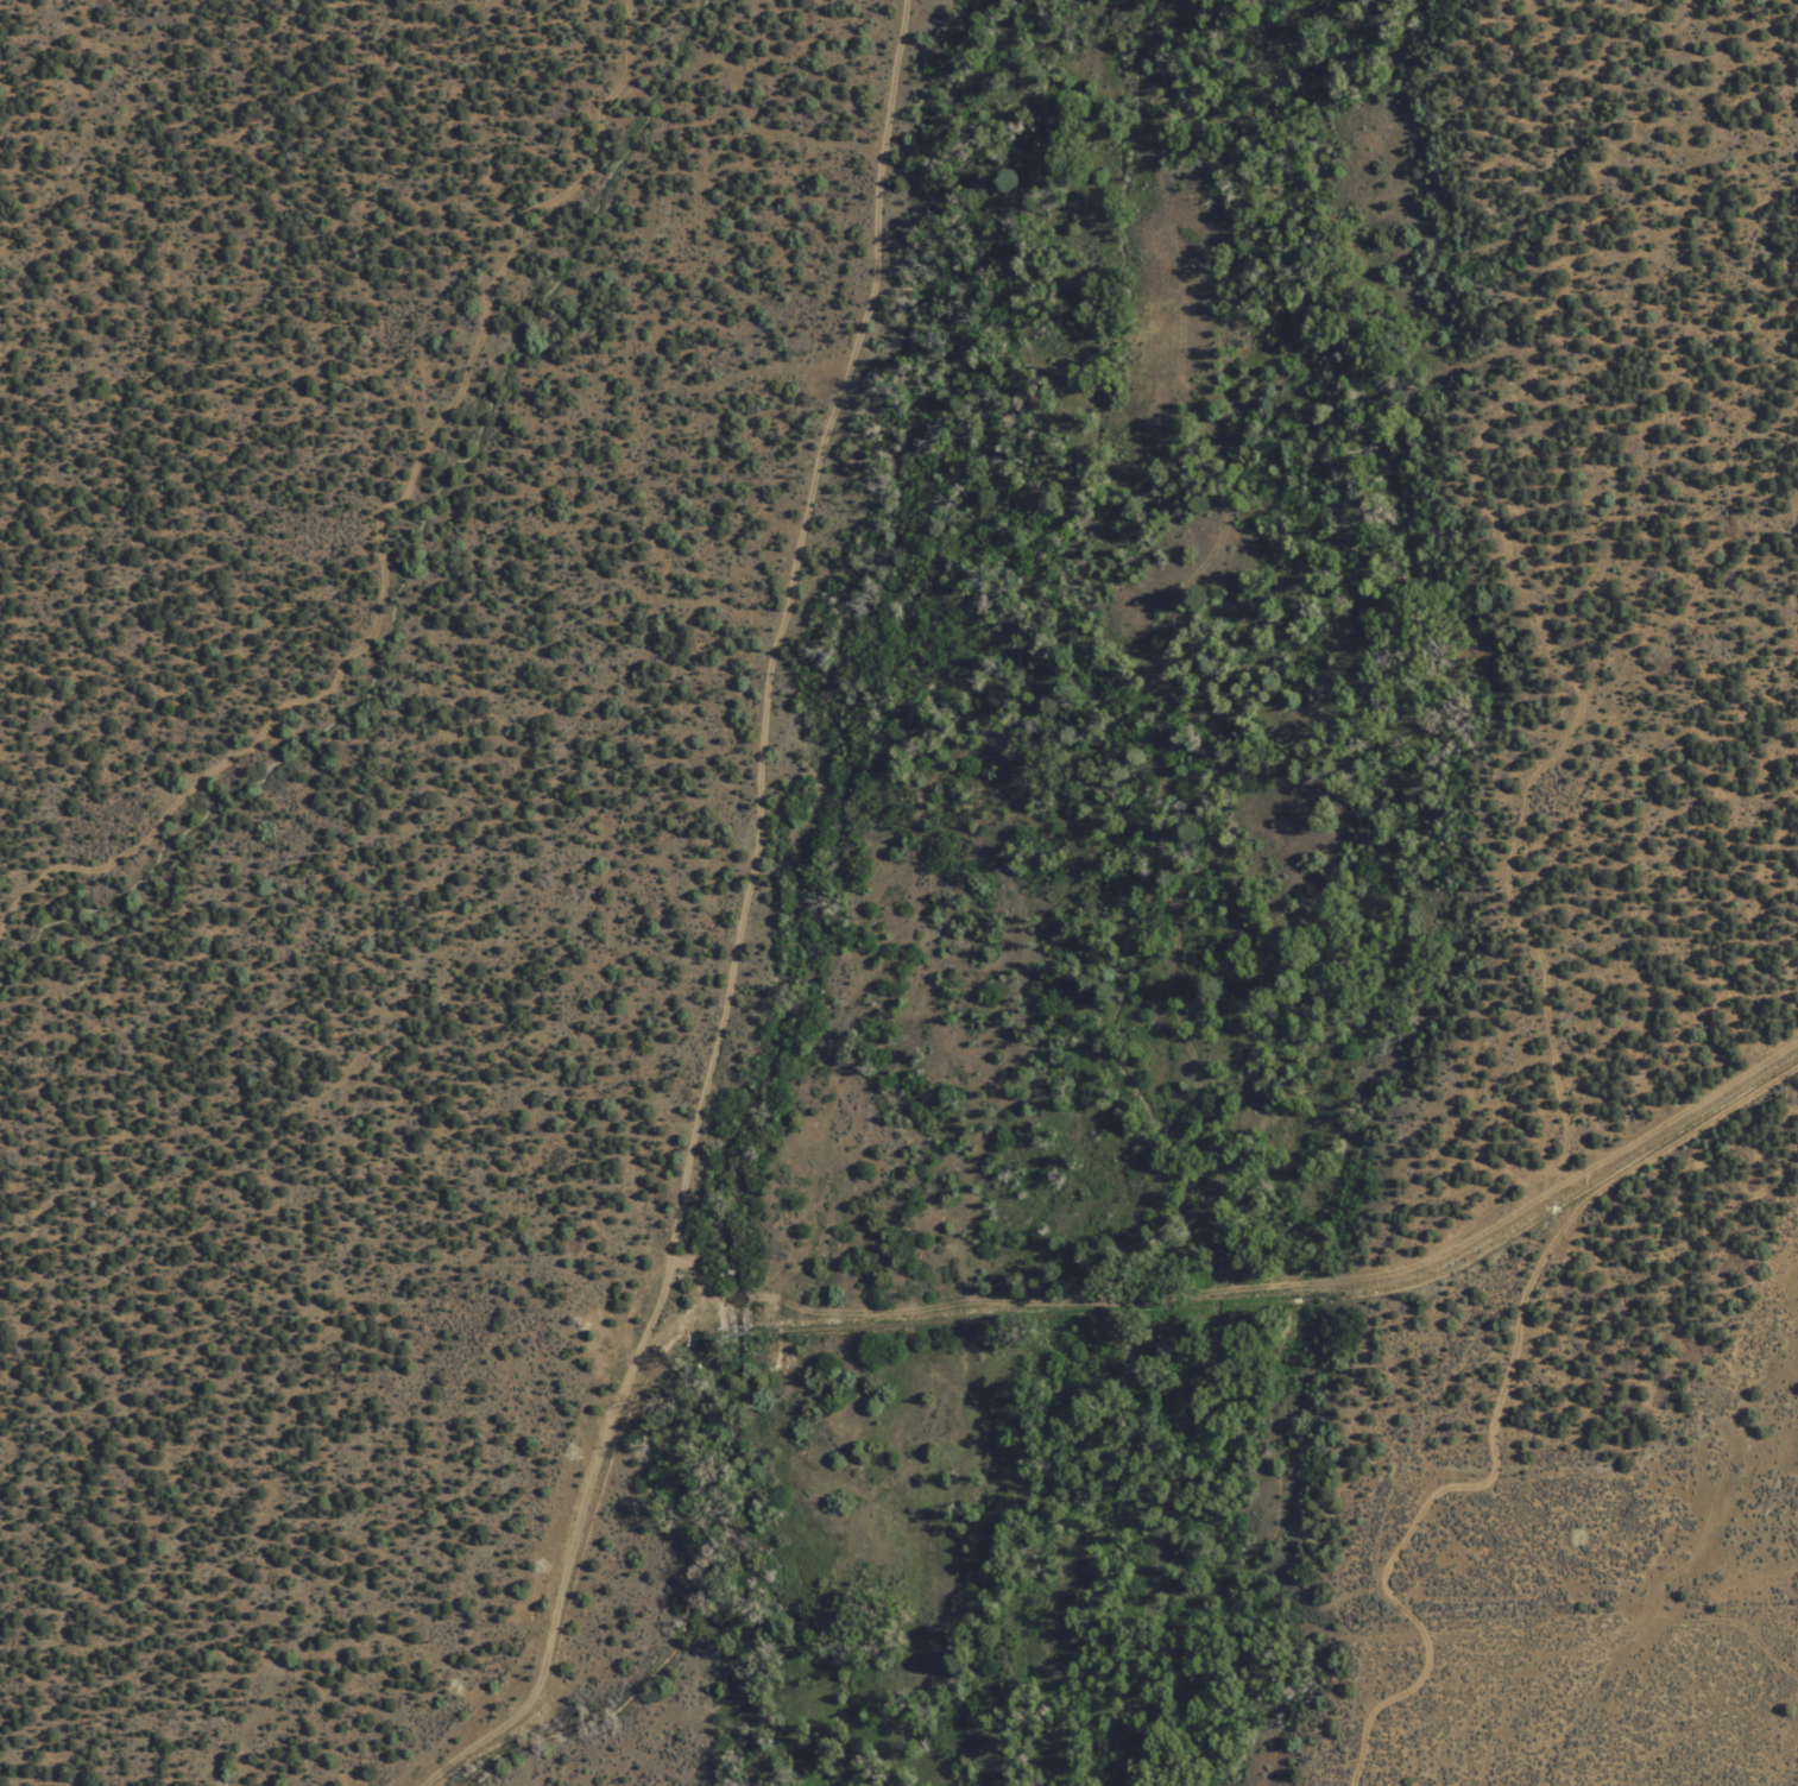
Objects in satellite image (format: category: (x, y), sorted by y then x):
road: (692, 916)
road: (1244, 1268)
road: (486, 1774)

